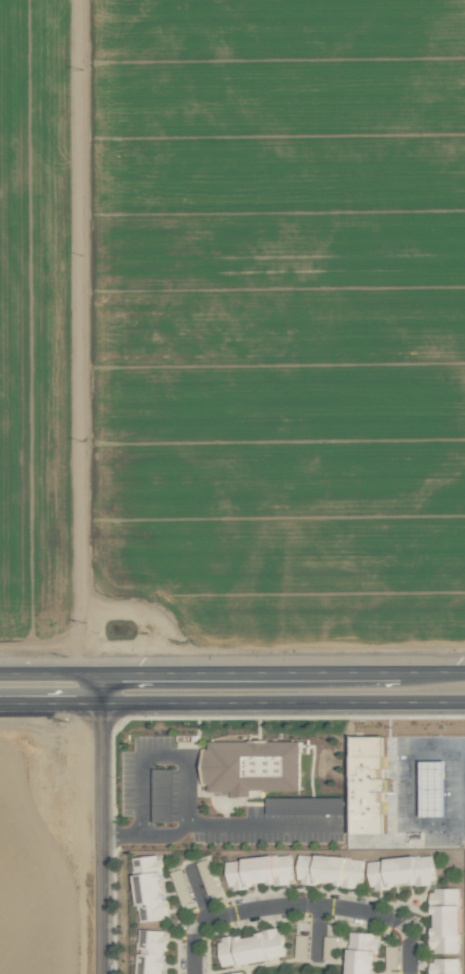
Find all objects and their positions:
road: (232, 673)
road: (232, 701)
road: (158, 755)
road: (458, 758)
building: (251, 765)
building: (369, 782)
building: (432, 787)
road: (97, 823)
road: (214, 825)
building: (329, 869)
building: (258, 870)
building: (400, 870)
building: (147, 886)
road: (197, 892)
road: (298, 905)
building: (443, 919)
road: (316, 932)
building: (249, 946)
building: (149, 950)
building: (360, 952)
building: (444, 965)
building: (234, 972)

